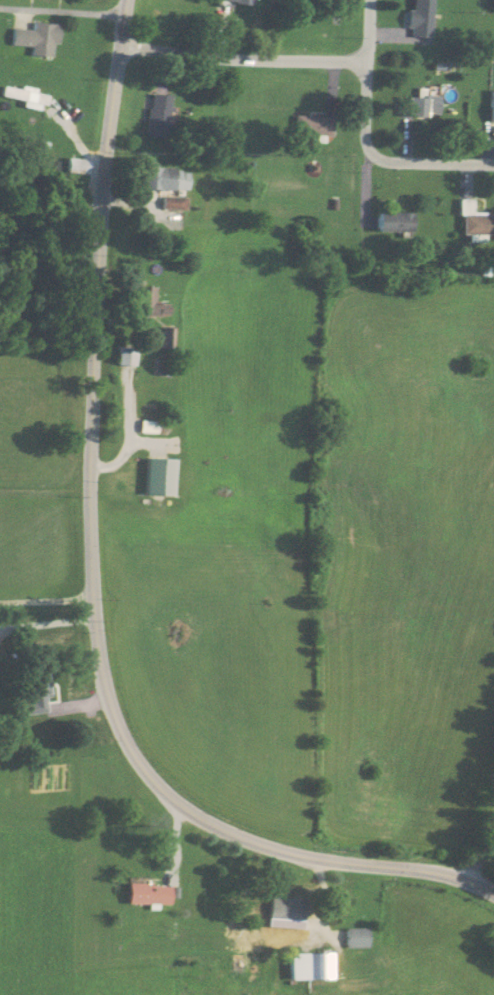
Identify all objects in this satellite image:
building: (238, 1)
road: (72, 14)
building: (419, 18)
road: (365, 31)
building: (36, 38)
road: (240, 59)
building: (422, 106)
building: (490, 106)
building: (156, 116)
building: (38, 121)
building: (312, 126)
road: (383, 161)
building: (79, 166)
building: (163, 178)
building: (394, 222)
building: (475, 222)
building: (141, 304)
building: (124, 356)
building: (146, 427)
building: (158, 477)
road: (91, 584)
road: (45, 600)
building: (34, 693)
road: (484, 847)
building: (148, 894)
building: (284, 906)
building: (355, 937)
building: (249, 949)
building: (311, 966)

